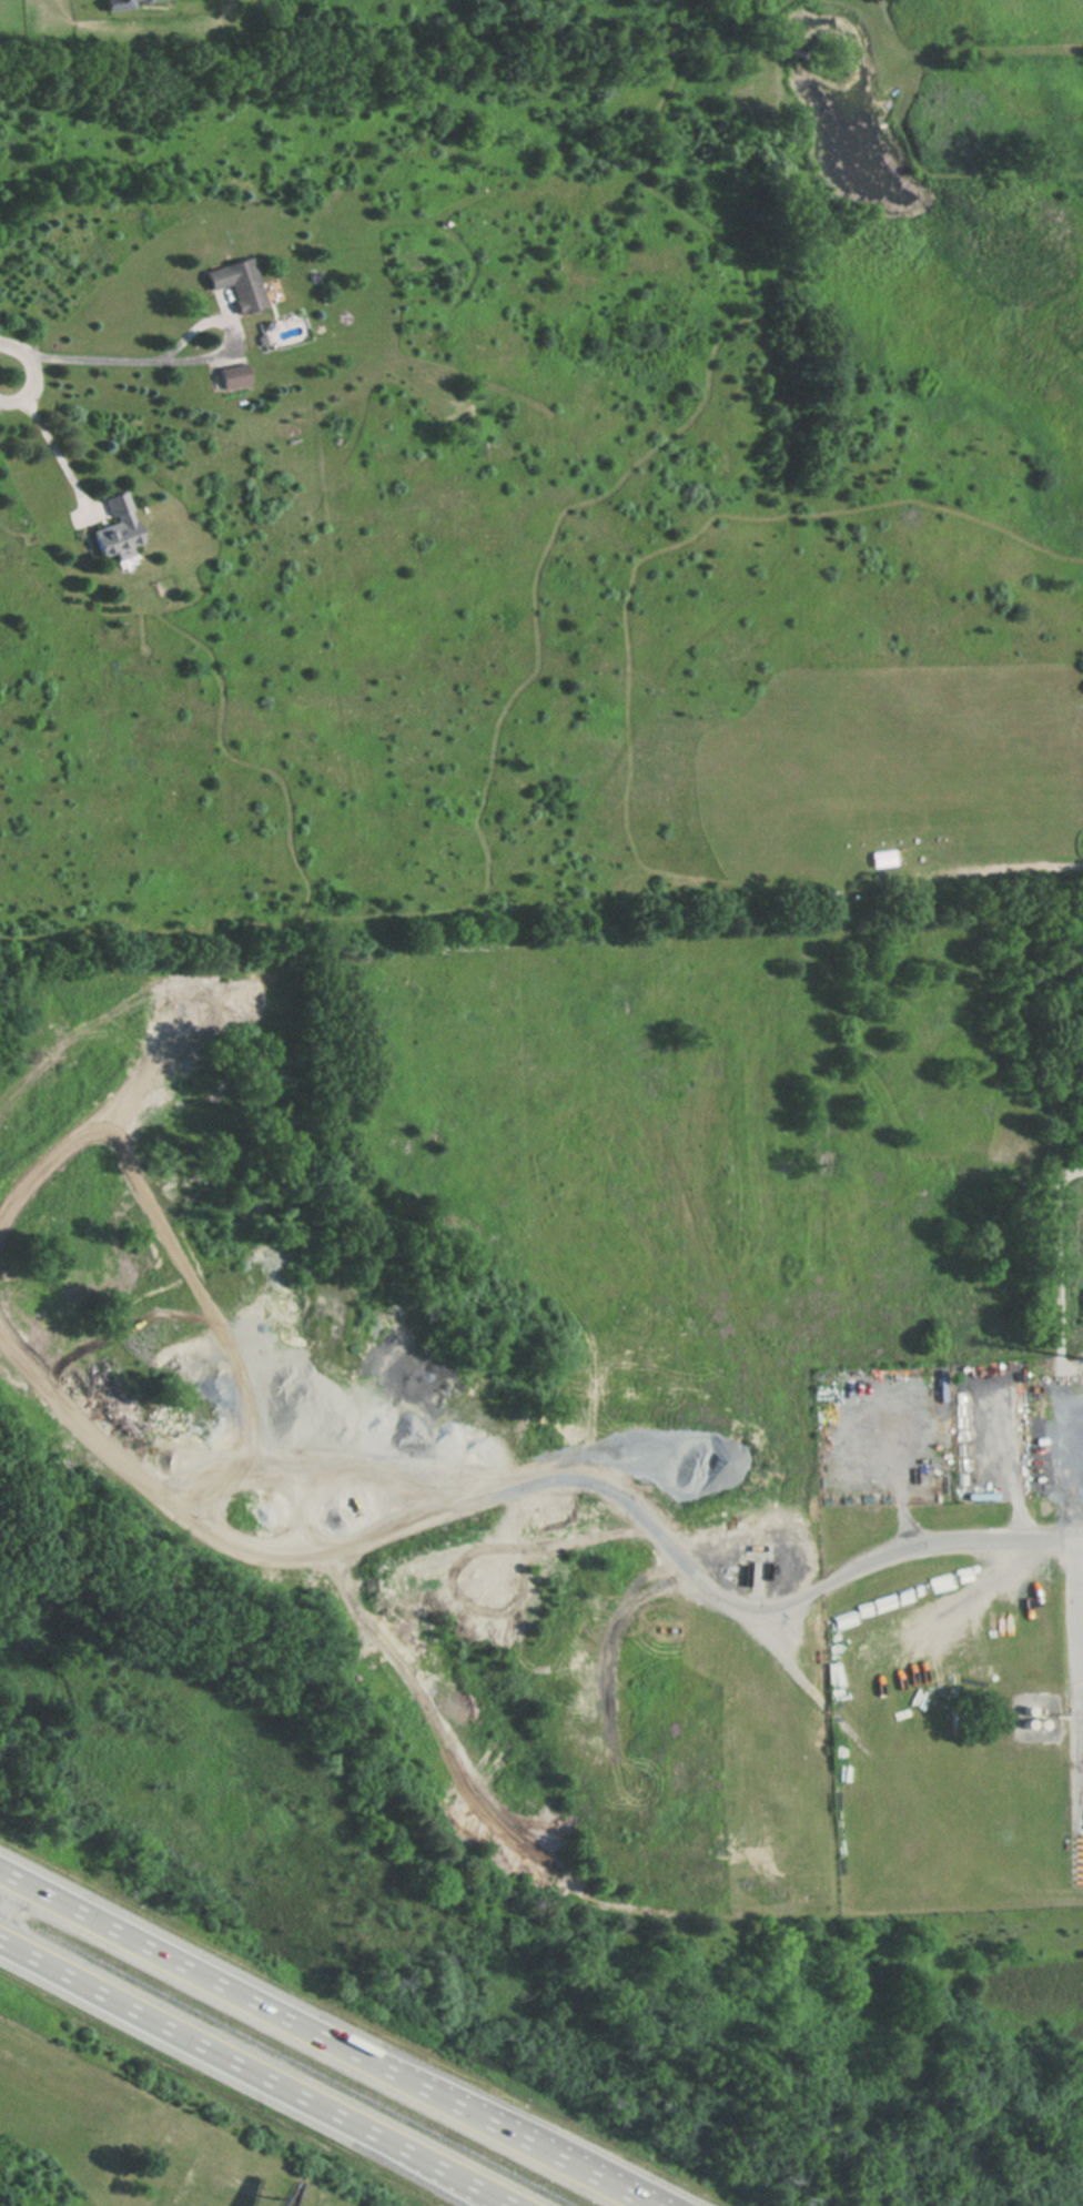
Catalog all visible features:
building: (129, 2)
building: (240, 280)
road: (107, 361)
building: (235, 370)
road: (6, 371)
road: (6, 382)
road: (53, 444)
building: (118, 528)
road: (953, 1539)
road: (9, 1894)
road: (326, 2037)
road: (244, 2071)
road: (498, 2202)

